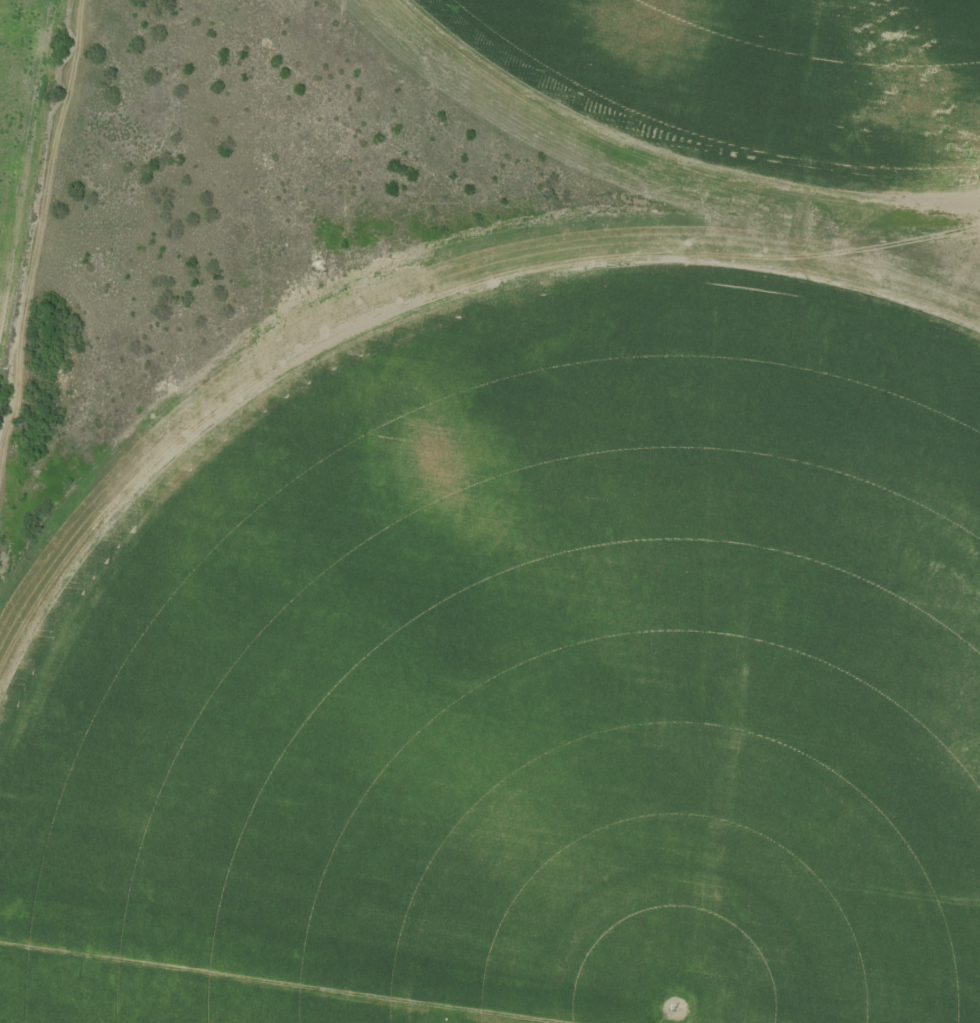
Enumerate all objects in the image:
road: (27, 158)

